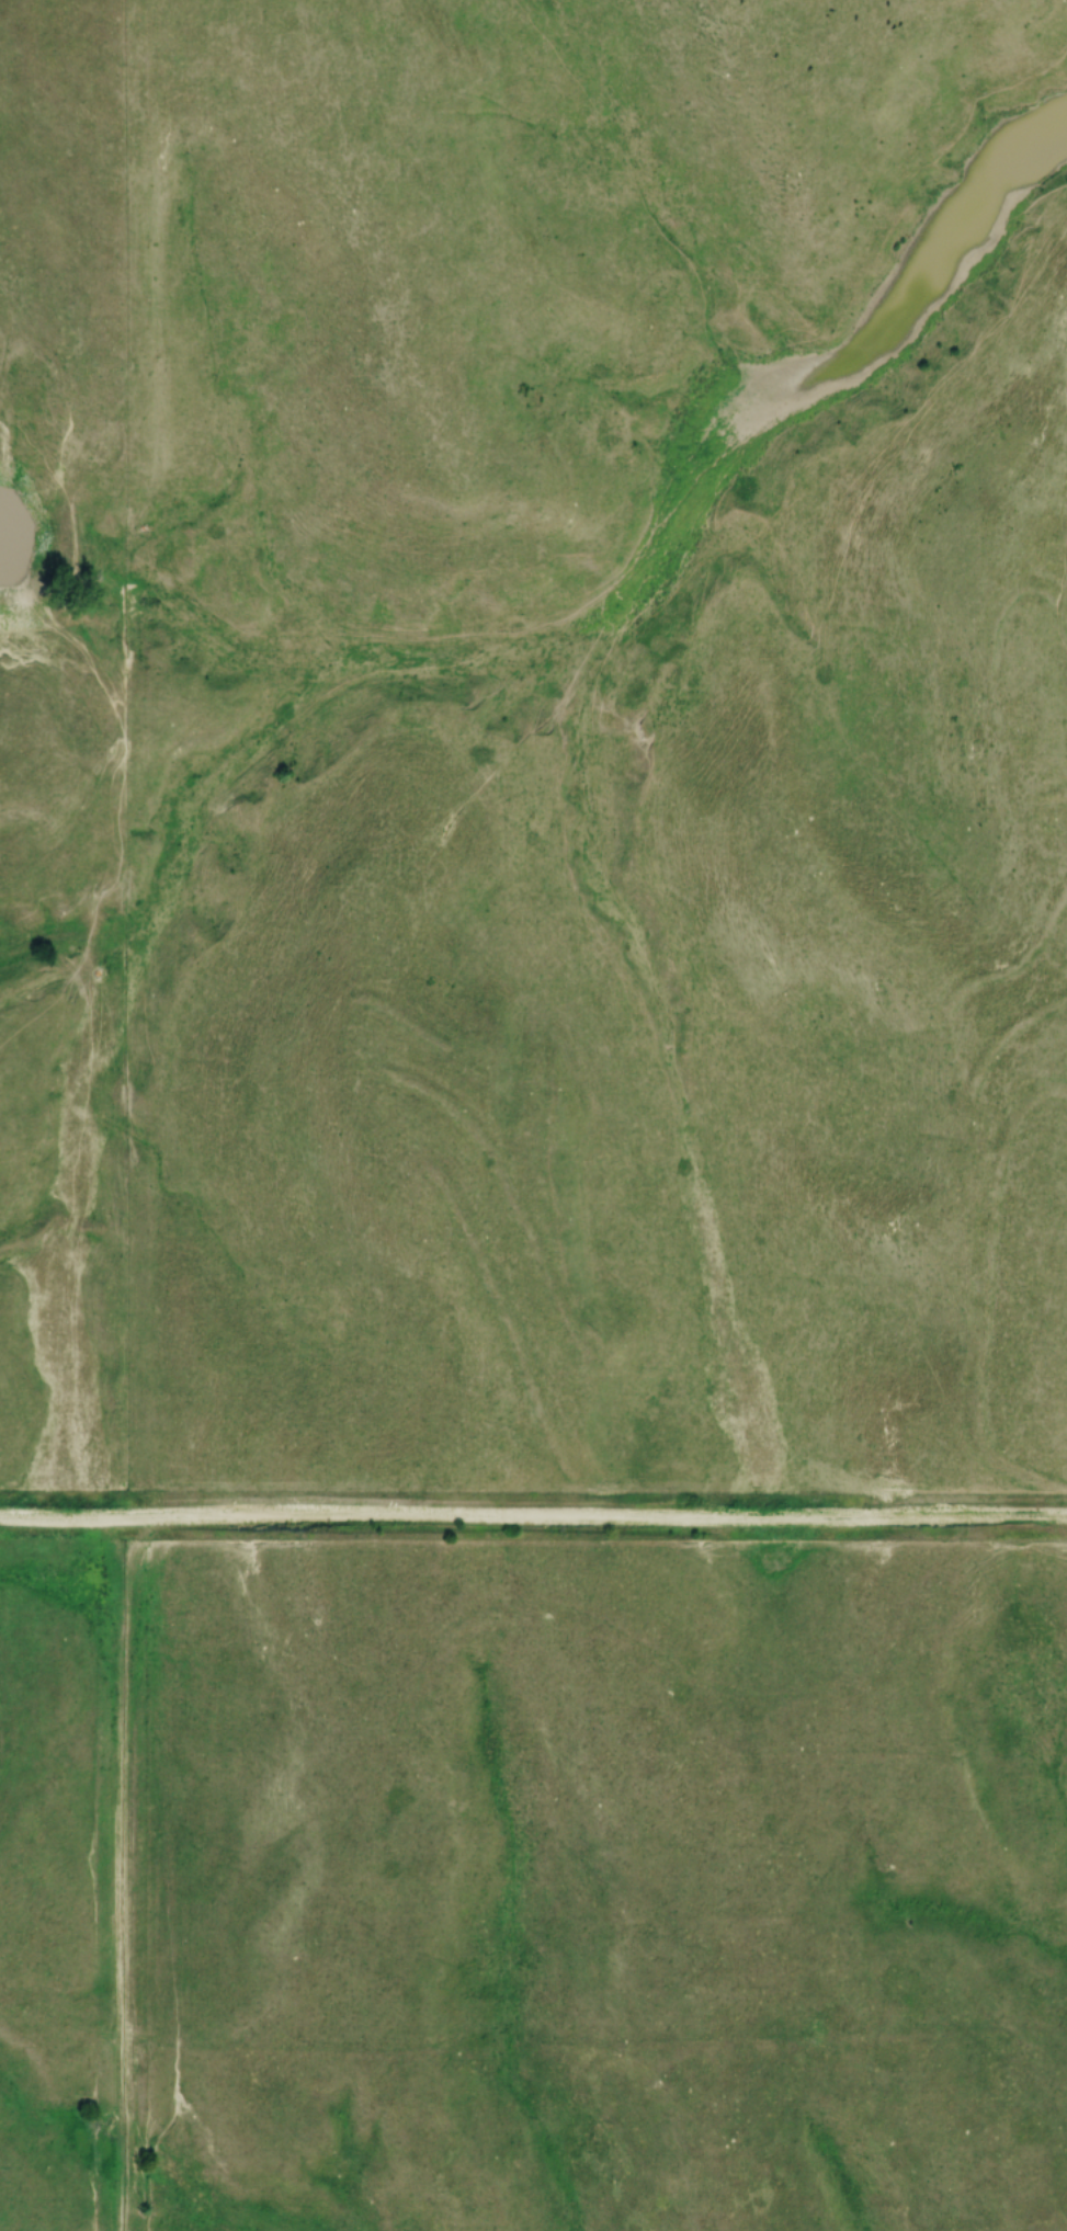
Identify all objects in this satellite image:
road: (533, 1515)

